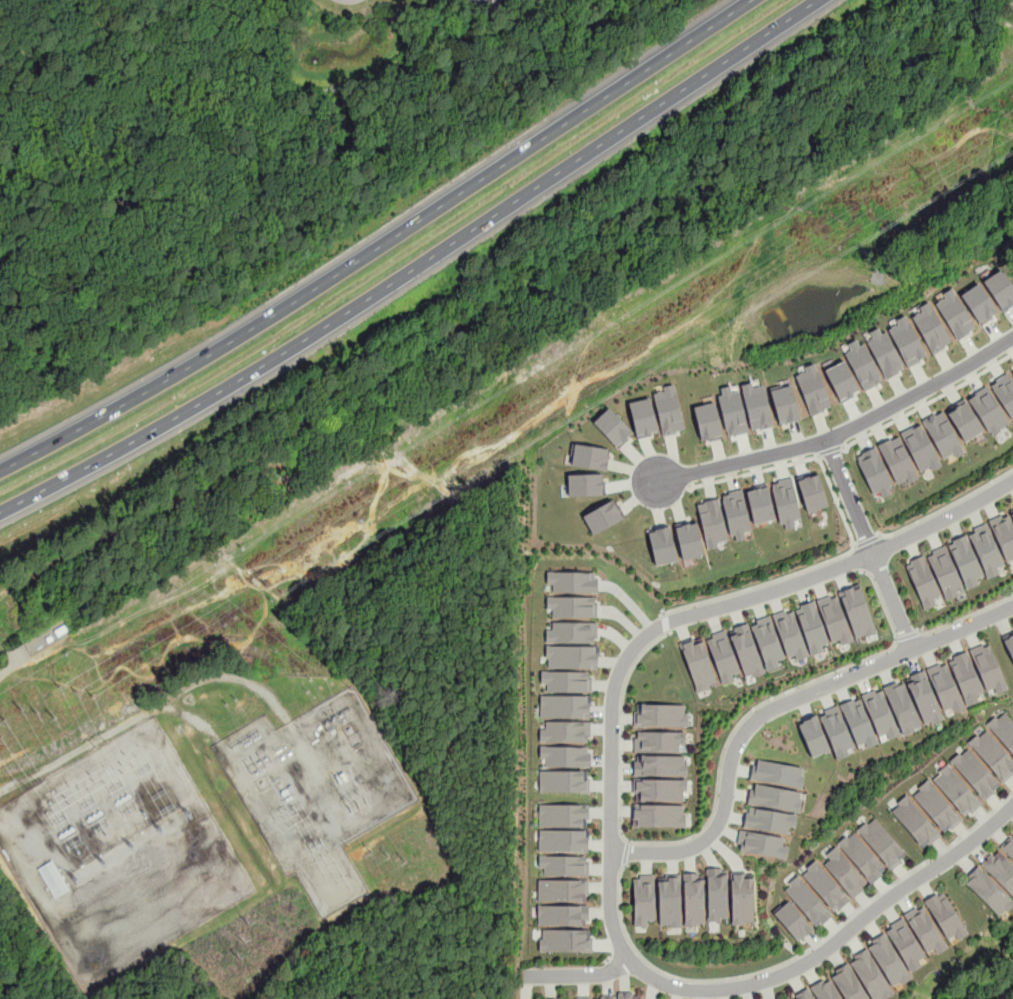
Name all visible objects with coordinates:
road: (977, 4)
road: (751, 162)
power tower: (924, 176)
road: (380, 244)
road: (415, 267)
building: (1000, 289)
building: (978, 303)
building: (954, 314)
building: (931, 328)
road: (508, 334)
building: (906, 341)
building: (883, 352)
building: (861, 363)
building: (1012, 371)
building: (840, 380)
power tower: (585, 381)
building: (812, 390)
building: (1004, 391)
road: (359, 401)
road: (928, 401)
building: (784, 403)
building: (755, 405)
building: (987, 408)
building: (668, 410)
building: (731, 411)
building: (642, 417)
building: (964, 419)
building: (706, 420)
building: (612, 427)
road: (838, 433)
building: (942, 435)
building: (918, 447)
road: (828, 451)
building: (590, 456)
building: (896, 459)
road: (752, 472)
building: (874, 472)
building: (584, 484)
building: (812, 492)
building: (785, 502)
building: (760, 505)
road: (945, 506)
building: (1011, 510)
building: (735, 513)
building: (602, 516)
building: (711, 522)
building: (1003, 534)
building: (688, 540)
road: (867, 540)
road: (236, 541)
road: (869, 543)
road: (99, 544)
building: (662, 546)
road: (215, 549)
building: (986, 550)
road: (861, 557)
building: (965, 561)
road: (809, 566)
building: (944, 571)
power tower: (263, 577)
building: (572, 581)
building: (923, 582)
building: (572, 606)
building: (857, 612)
road: (964, 617)
building: (834, 619)
road: (664, 623)
building: (811, 627)
building: (571, 632)
building: (790, 633)
road: (908, 635)
building: (766, 641)
building: (1009, 646)
building: (746, 650)
building: (723, 655)
building: (571, 656)
building: (697, 663)
building: (988, 667)
building: (966, 677)
building: (566, 681)
building: (945, 688)
power tower: (76, 692)
building: (924, 698)
road: (766, 700)
building: (563, 705)
road: (776, 706)
building: (902, 707)
building: (880, 713)
power tower: (38, 715)
building: (659, 715)
building: (858, 722)
road: (621, 728)
road: (468, 729)
building: (836, 730)
building: (1002, 730)
building: (565, 731)
building: (813, 736)
power tower: (1, 737)
building: (658, 741)
power tower: (100, 743)
building: (992, 754)
building: (565, 756)
building: (660, 765)
road: (440, 773)
building: (777, 773)
building: (975, 773)
building: (563, 781)
power tower: (31, 784)
building: (659, 789)
building: (955, 789)
power substation: (314, 790)
power tower: (353, 796)
building: (774, 798)
building: (935, 805)
building: (562, 814)
building: (658, 815)
road: (611, 819)
building: (768, 820)
building: (914, 820)
power tower: (176, 825)
building: (562, 840)
power tower: (147, 842)
building: (881, 842)
building: (761, 843)
building: (1008, 846)
road: (625, 853)
power substation: (118, 854)
power tower: (388, 856)
building: (861, 856)
power tower: (118, 858)
road: (464, 858)
building: (563, 864)
building: (1000, 869)
building: (844, 872)
power tower: (90, 875)
building: (53, 879)
building: (824, 885)
building: (561, 890)
building: (988, 890)
building: (717, 895)
building: (741, 898)
building: (643, 900)
building: (693, 900)
building: (807, 900)
building: (669, 901)
building: (561, 915)
building: (945, 916)
building: (792, 919)
building: (925, 930)
power tower: (244, 940)
building: (564, 940)
building: (905, 944)
road: (423, 951)
road: (799, 955)
building: (888, 959)
road: (35, 965)
road: (329, 970)
road: (580, 975)
building: (870, 975)
road: (16, 980)
building: (848, 983)
building: (825, 989)
building: (802, 994)
building: (629, 995)
building: (607, 997)
road: (1, 998)
building: (583, 998)
building: (784, 998)

